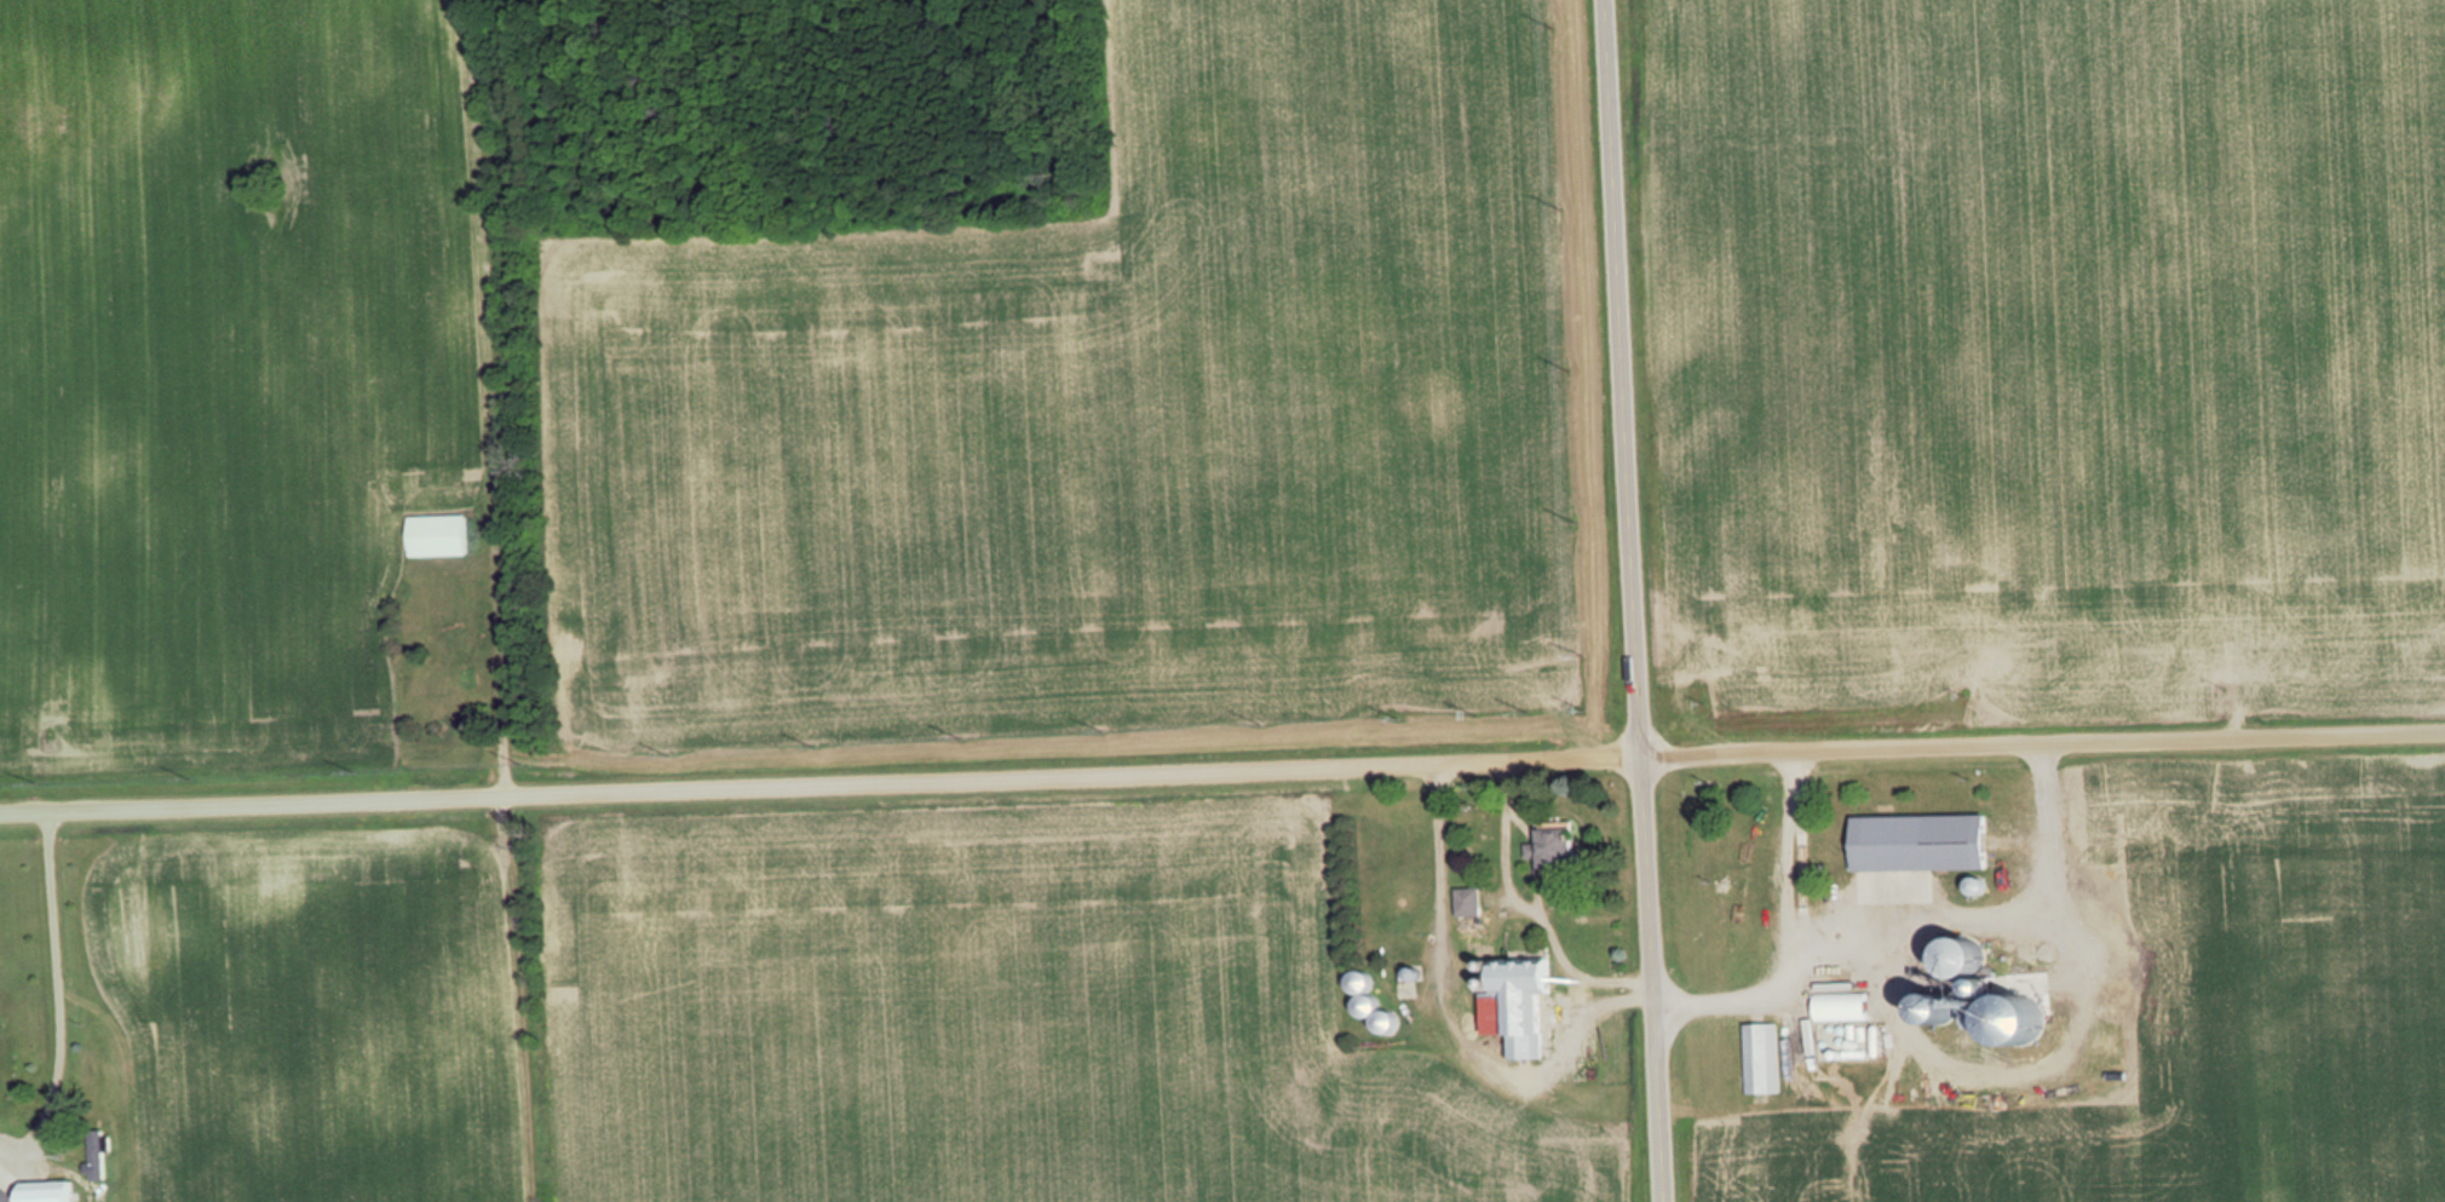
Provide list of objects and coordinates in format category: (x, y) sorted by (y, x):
building: (438, 535)
road: (1634, 600)
road: (1221, 767)
building: (1921, 844)
building: (1558, 849)
building: (1468, 901)
building: (1966, 957)
building: (1363, 994)
building: (1517, 1005)
building: (1841, 1006)
building: (1382, 1023)
building: (1757, 1058)
building: (99, 1155)
building: (47, 1191)

